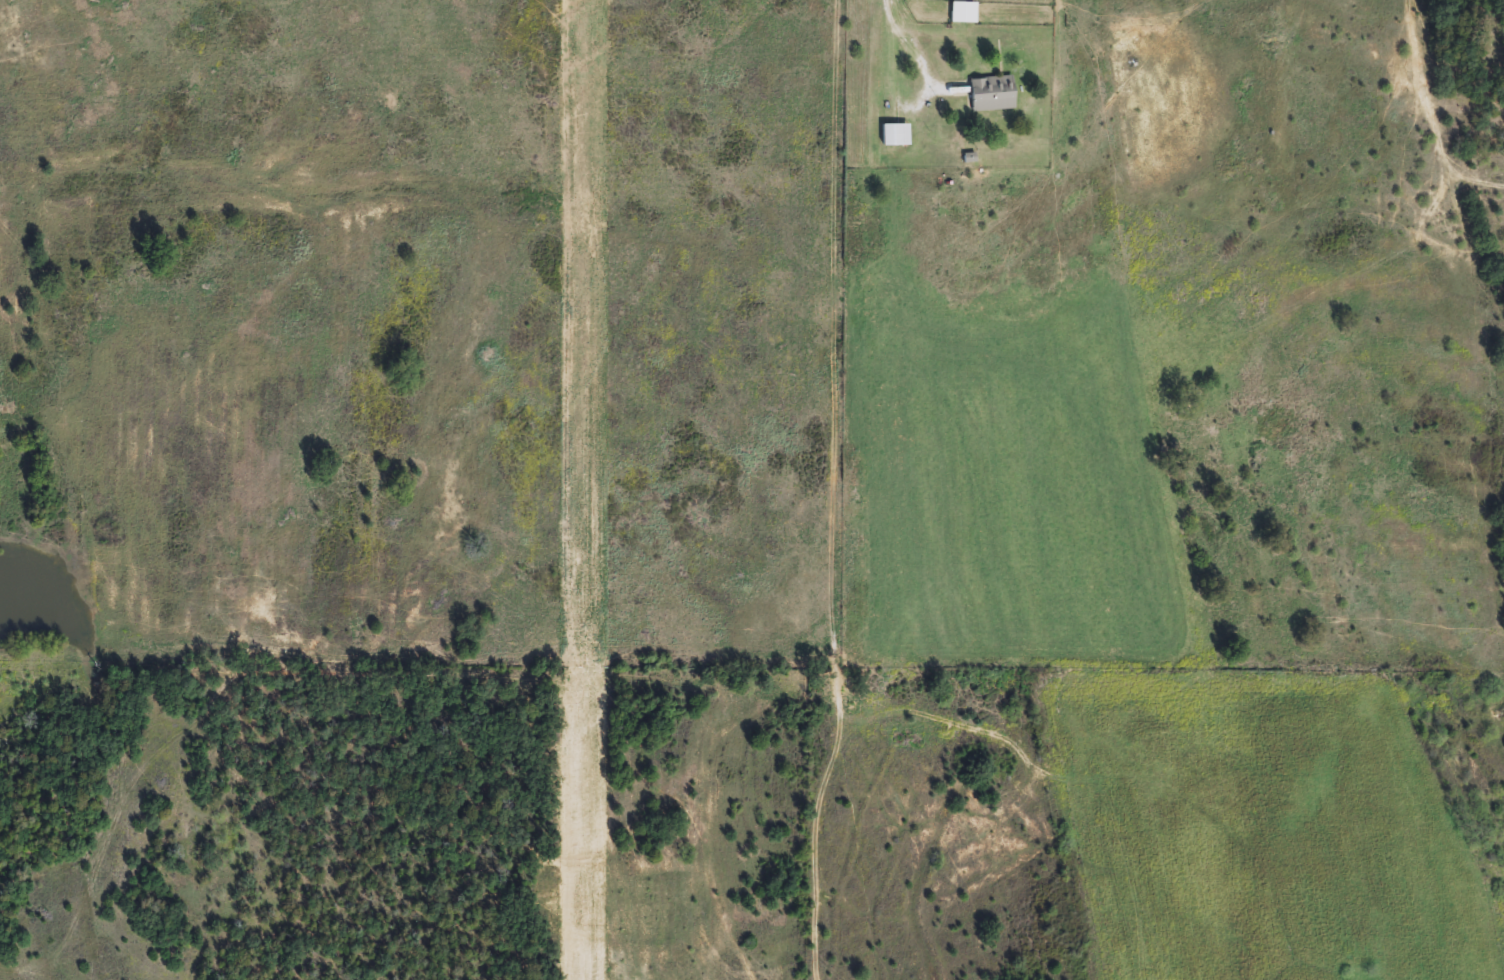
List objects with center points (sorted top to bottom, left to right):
building: (963, 13)
road: (906, 38)
building: (991, 94)
building: (895, 135)

